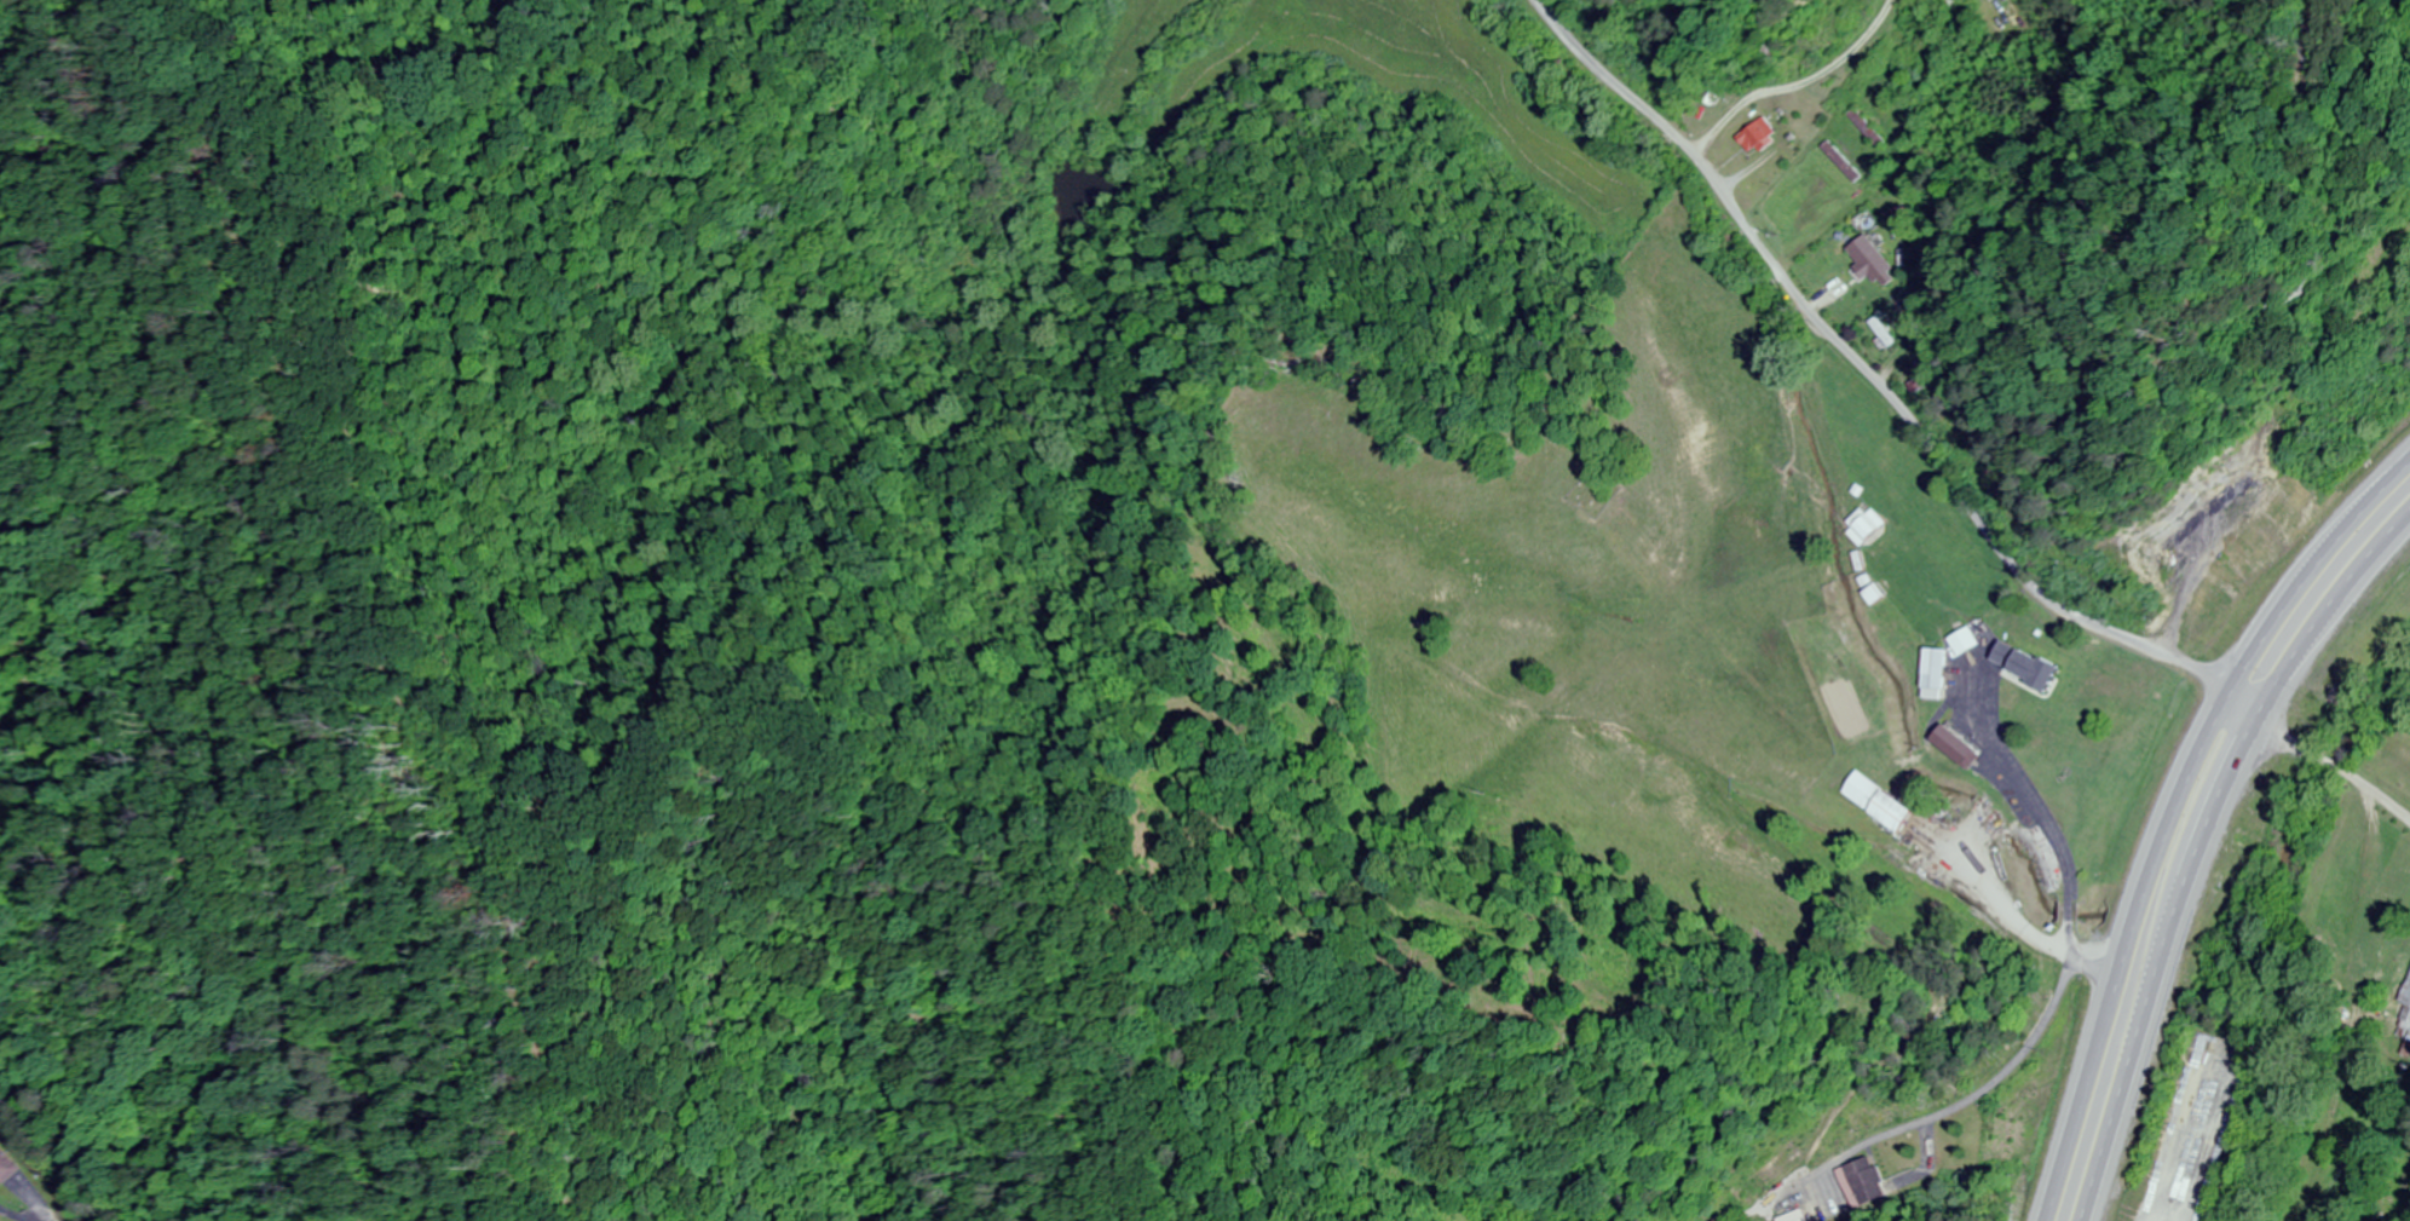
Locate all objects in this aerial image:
building: (1860, 126)
building: (1753, 136)
building: (1838, 162)
building: (1867, 259)
building: (1883, 333)
road: (1881, 386)
building: (1864, 525)
building: (2019, 664)
building: (1930, 673)
building: (1950, 748)
building: (1870, 802)
road: (2172, 812)
road: (2204, 849)
building: (2405, 1008)
building: (10, 1165)
building: (1856, 1183)
road: (13, 1213)
building: (1791, 1217)

